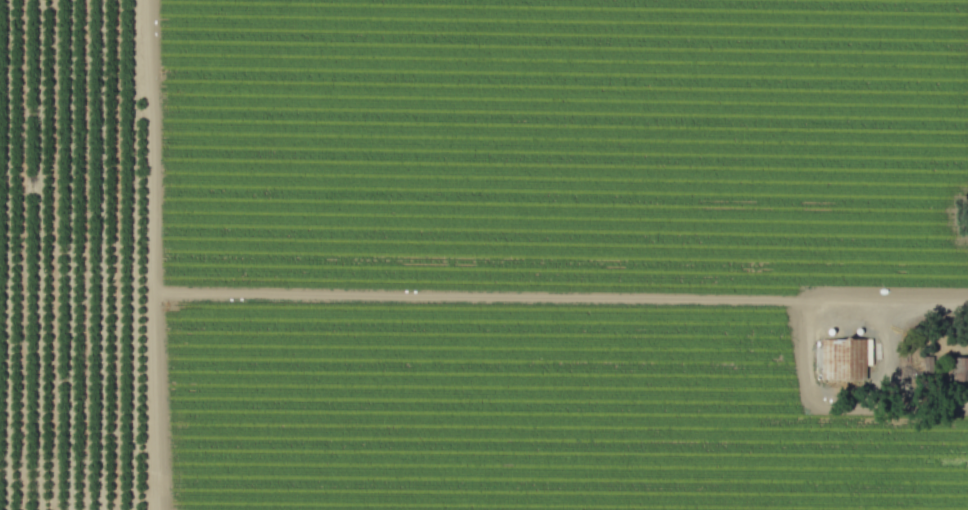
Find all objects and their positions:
road: (889, 348)
building: (843, 359)
building: (957, 369)

